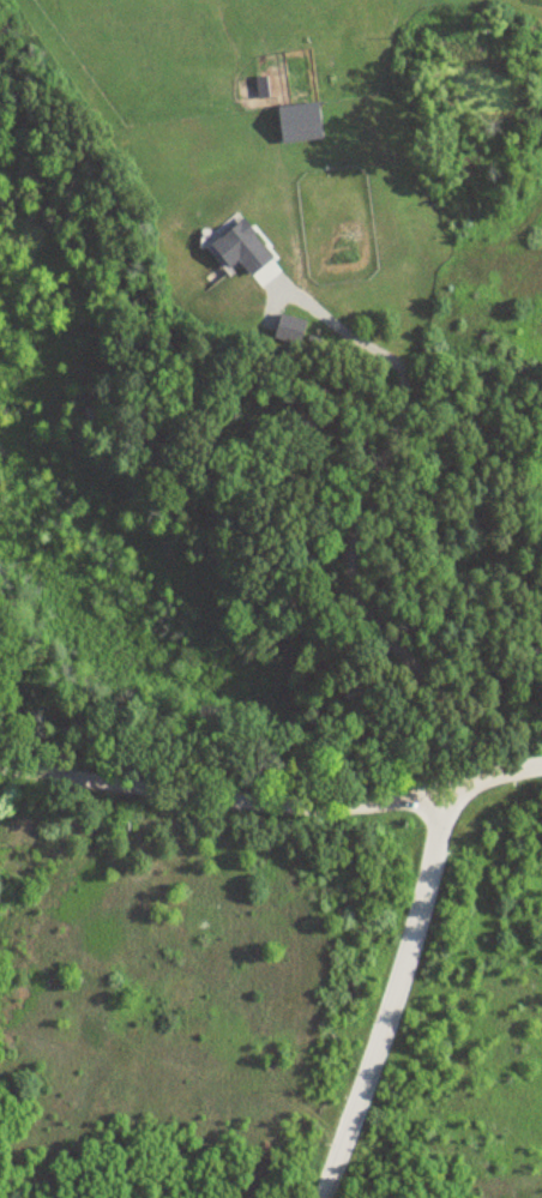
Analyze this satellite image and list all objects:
road: (357, 524)
road: (272, 801)
road: (397, 995)

